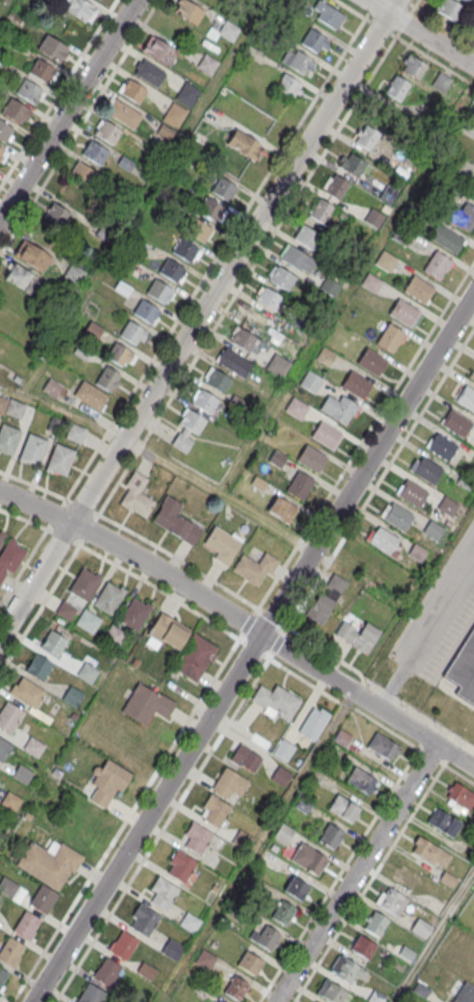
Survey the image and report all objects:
building: (100, 0)
building: (466, 0)
road: (409, 3)
road: (417, 3)
building: (449, 9)
building: (79, 10)
building: (188, 11)
building: (328, 15)
building: (225, 31)
road: (421, 33)
building: (314, 41)
building: (52, 49)
building: (159, 50)
building: (298, 62)
building: (412, 68)
building: (42, 72)
building: (150, 74)
building: (440, 83)
building: (288, 86)
building: (397, 89)
building: (29, 92)
building: (134, 92)
road: (58, 94)
building: (187, 95)
road: (68, 110)
building: (15, 111)
building: (122, 113)
building: (428, 113)
building: (471, 115)
building: (174, 116)
building: (5, 132)
building: (108, 133)
building: (369, 137)
building: (243, 145)
building: (0, 150)
building: (95, 154)
building: (351, 165)
building: (83, 174)
building: (224, 188)
building: (335, 188)
building: (472, 192)
building: (388, 195)
building: (210, 209)
building: (322, 213)
building: (57, 216)
building: (465, 217)
building: (374, 219)
building: (198, 229)
building: (306, 237)
building: (446, 238)
building: (185, 249)
road: (221, 250)
building: (32, 257)
building: (297, 259)
road: (256, 261)
building: (436, 264)
building: (173, 270)
building: (18, 277)
building: (280, 277)
building: (371, 283)
building: (330, 287)
building: (418, 288)
building: (159, 291)
building: (268, 298)
building: (146, 311)
building: (404, 312)
road: (198, 318)
building: (133, 333)
building: (390, 337)
building: (243, 341)
building: (120, 355)
building: (325, 357)
building: (371, 363)
building: (235, 364)
building: (278, 365)
building: (108, 378)
building: (473, 378)
building: (218, 382)
building: (311, 383)
building: (356, 386)
building: (52, 388)
building: (90, 396)
building: (466, 399)
building: (205, 402)
building: (2, 405)
building: (15, 409)
building: (296, 409)
building: (338, 410)
road: (74, 415)
building: (456, 424)
building: (188, 431)
building: (76, 434)
road: (365, 434)
building: (327, 437)
building: (8, 439)
building: (442, 448)
building: (33, 450)
building: (60, 460)
building: (311, 460)
building: (428, 471)
building: (300, 484)
road: (221, 490)
road: (371, 494)
building: (412, 494)
building: (136, 496)
building: (281, 508)
building: (397, 518)
road: (23, 519)
building: (175, 520)
road: (133, 533)
building: (2, 538)
building: (384, 542)
building: (222, 544)
road: (94, 553)
building: (10, 559)
road: (23, 567)
building: (255, 569)
road: (181, 582)
building: (85, 585)
building: (109, 599)
building: (319, 609)
building: (65, 610)
building: (135, 615)
building: (88, 622)
building: (164, 632)
road: (426, 633)
building: (113, 636)
building: (358, 636)
building: (53, 645)
road: (254, 648)
building: (195, 658)
building: (39, 668)
building: (463, 670)
building: (87, 674)
building: (27, 694)
building: (73, 697)
building: (276, 703)
building: (146, 706)
building: (9, 718)
building: (313, 725)
road: (413, 729)
road: (181, 731)
building: (383, 747)
building: (33, 748)
building: (4, 750)
building: (283, 751)
building: (246, 760)
building: (22, 775)
building: (280, 777)
building: (361, 782)
building: (108, 783)
building: (229, 784)
building: (460, 796)
building: (11, 802)
building: (344, 809)
building: (215, 812)
building: (444, 824)
road: (162, 831)
building: (283, 835)
building: (330, 837)
building: (242, 838)
building: (197, 839)
building: (430, 853)
building: (308, 860)
road: (346, 863)
building: (49, 864)
building: (181, 867)
road: (378, 868)
road: (356, 873)
building: (408, 878)
building: (296, 890)
building: (163, 894)
building: (43, 900)
building: (392, 902)
building: (283, 914)
building: (189, 922)
building: (145, 923)
building: (376, 925)
building: (26, 926)
building: (421, 929)
road: (434, 939)
building: (267, 940)
building: (123, 946)
building: (363, 949)
building: (172, 950)
building: (10, 953)
building: (204, 960)
building: (249, 965)
building: (348, 970)
building: (146, 972)
building: (107, 973)
building: (2, 978)
building: (235, 989)
building: (331, 993)
building: (465, 994)
building: (91, 995)
building: (218, 1000)

